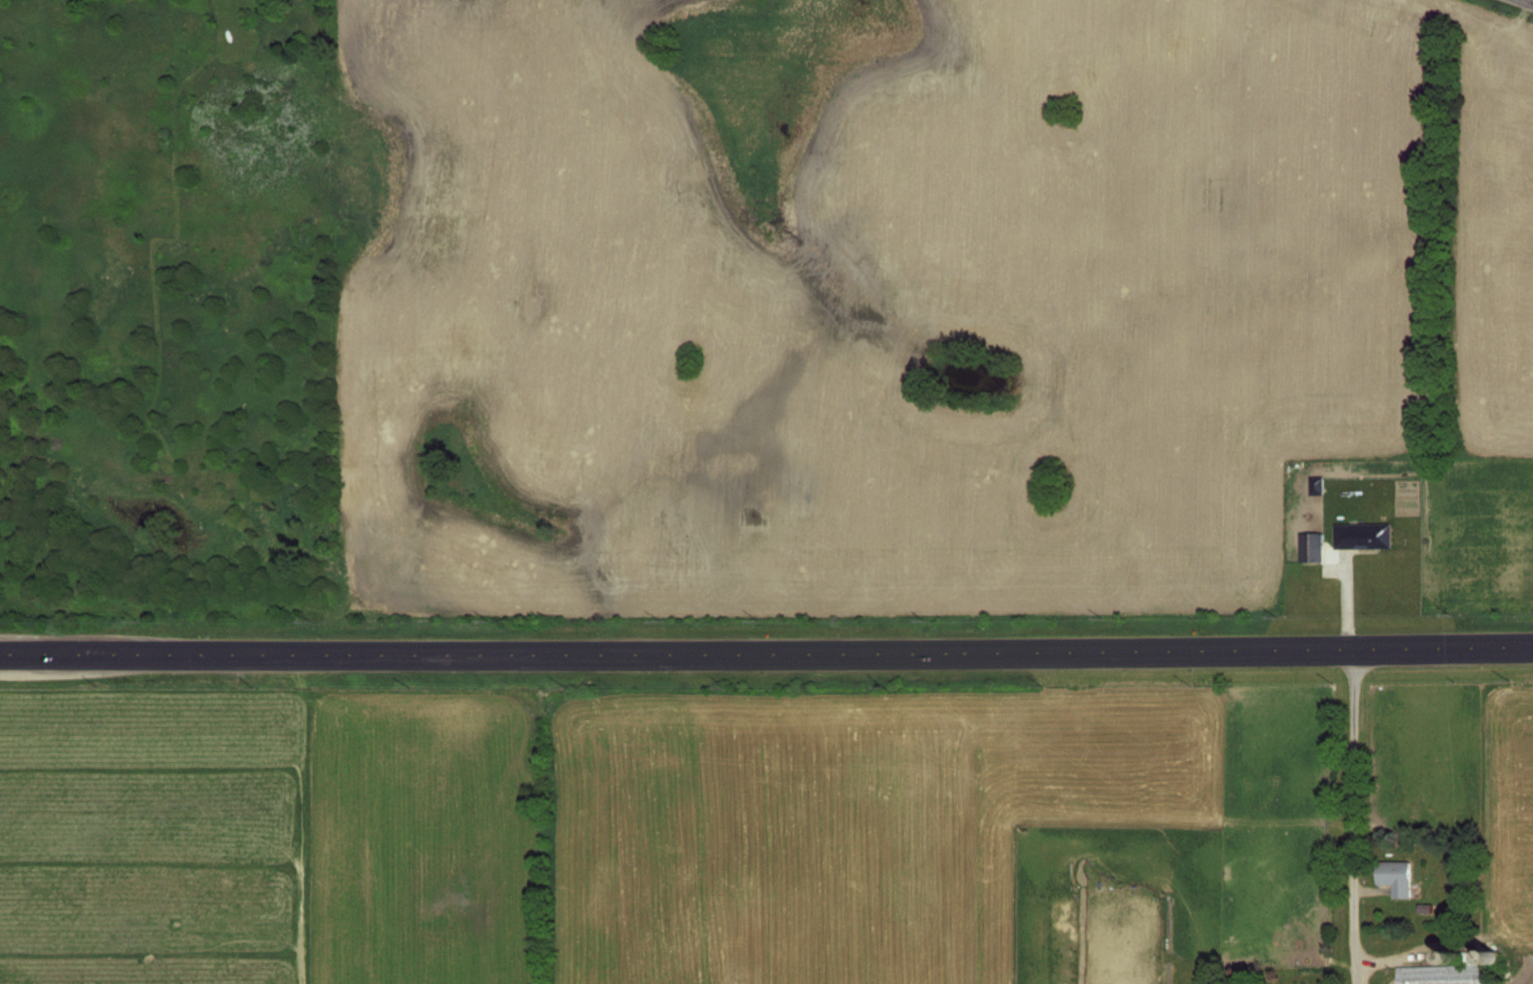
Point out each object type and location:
road: (1531, 0)
building: (1315, 485)
building: (1362, 535)
road: (1080, 650)
road: (314, 653)
road: (1355, 816)
building: (1394, 876)
building: (1442, 974)

